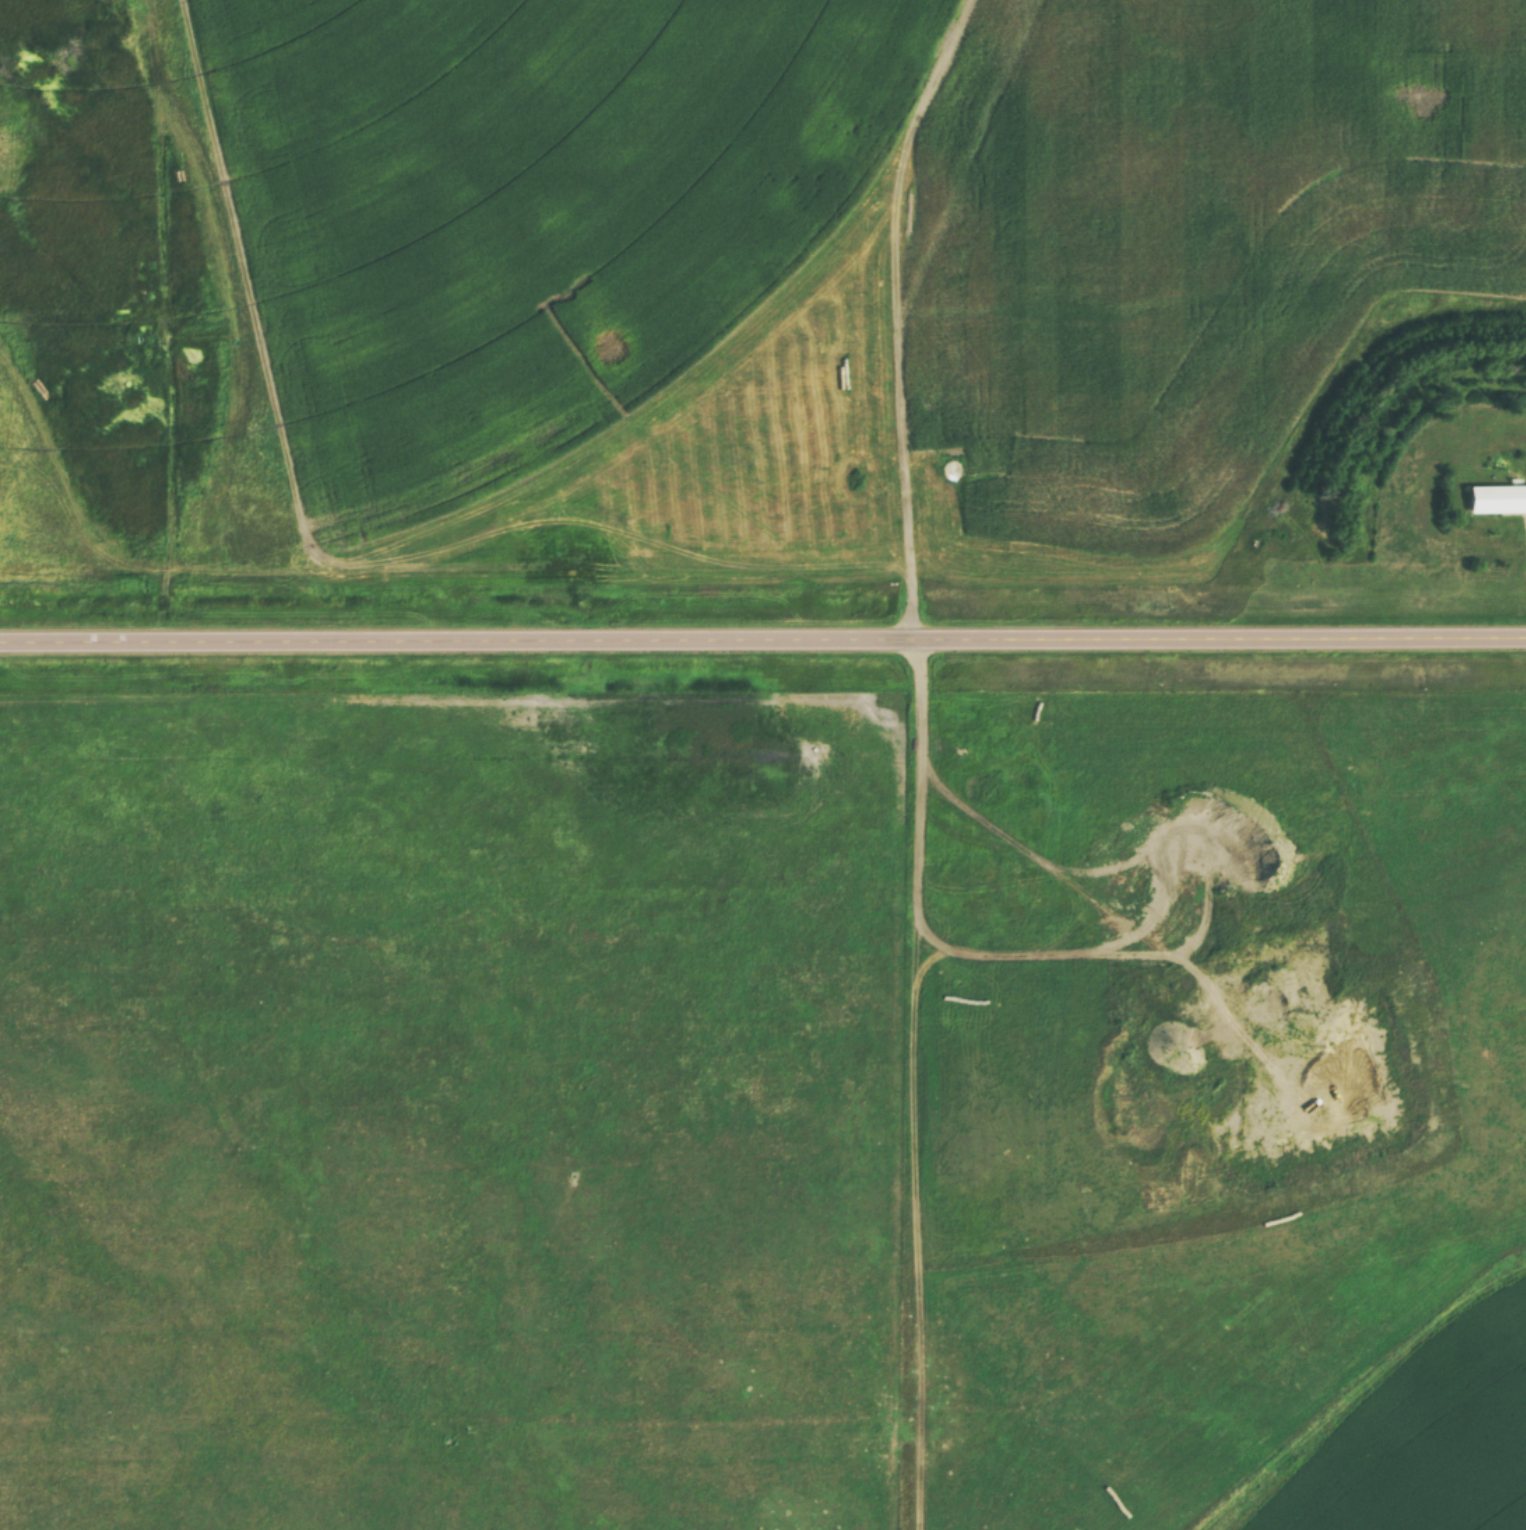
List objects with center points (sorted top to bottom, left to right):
building: (1498, 497)
road: (763, 640)

